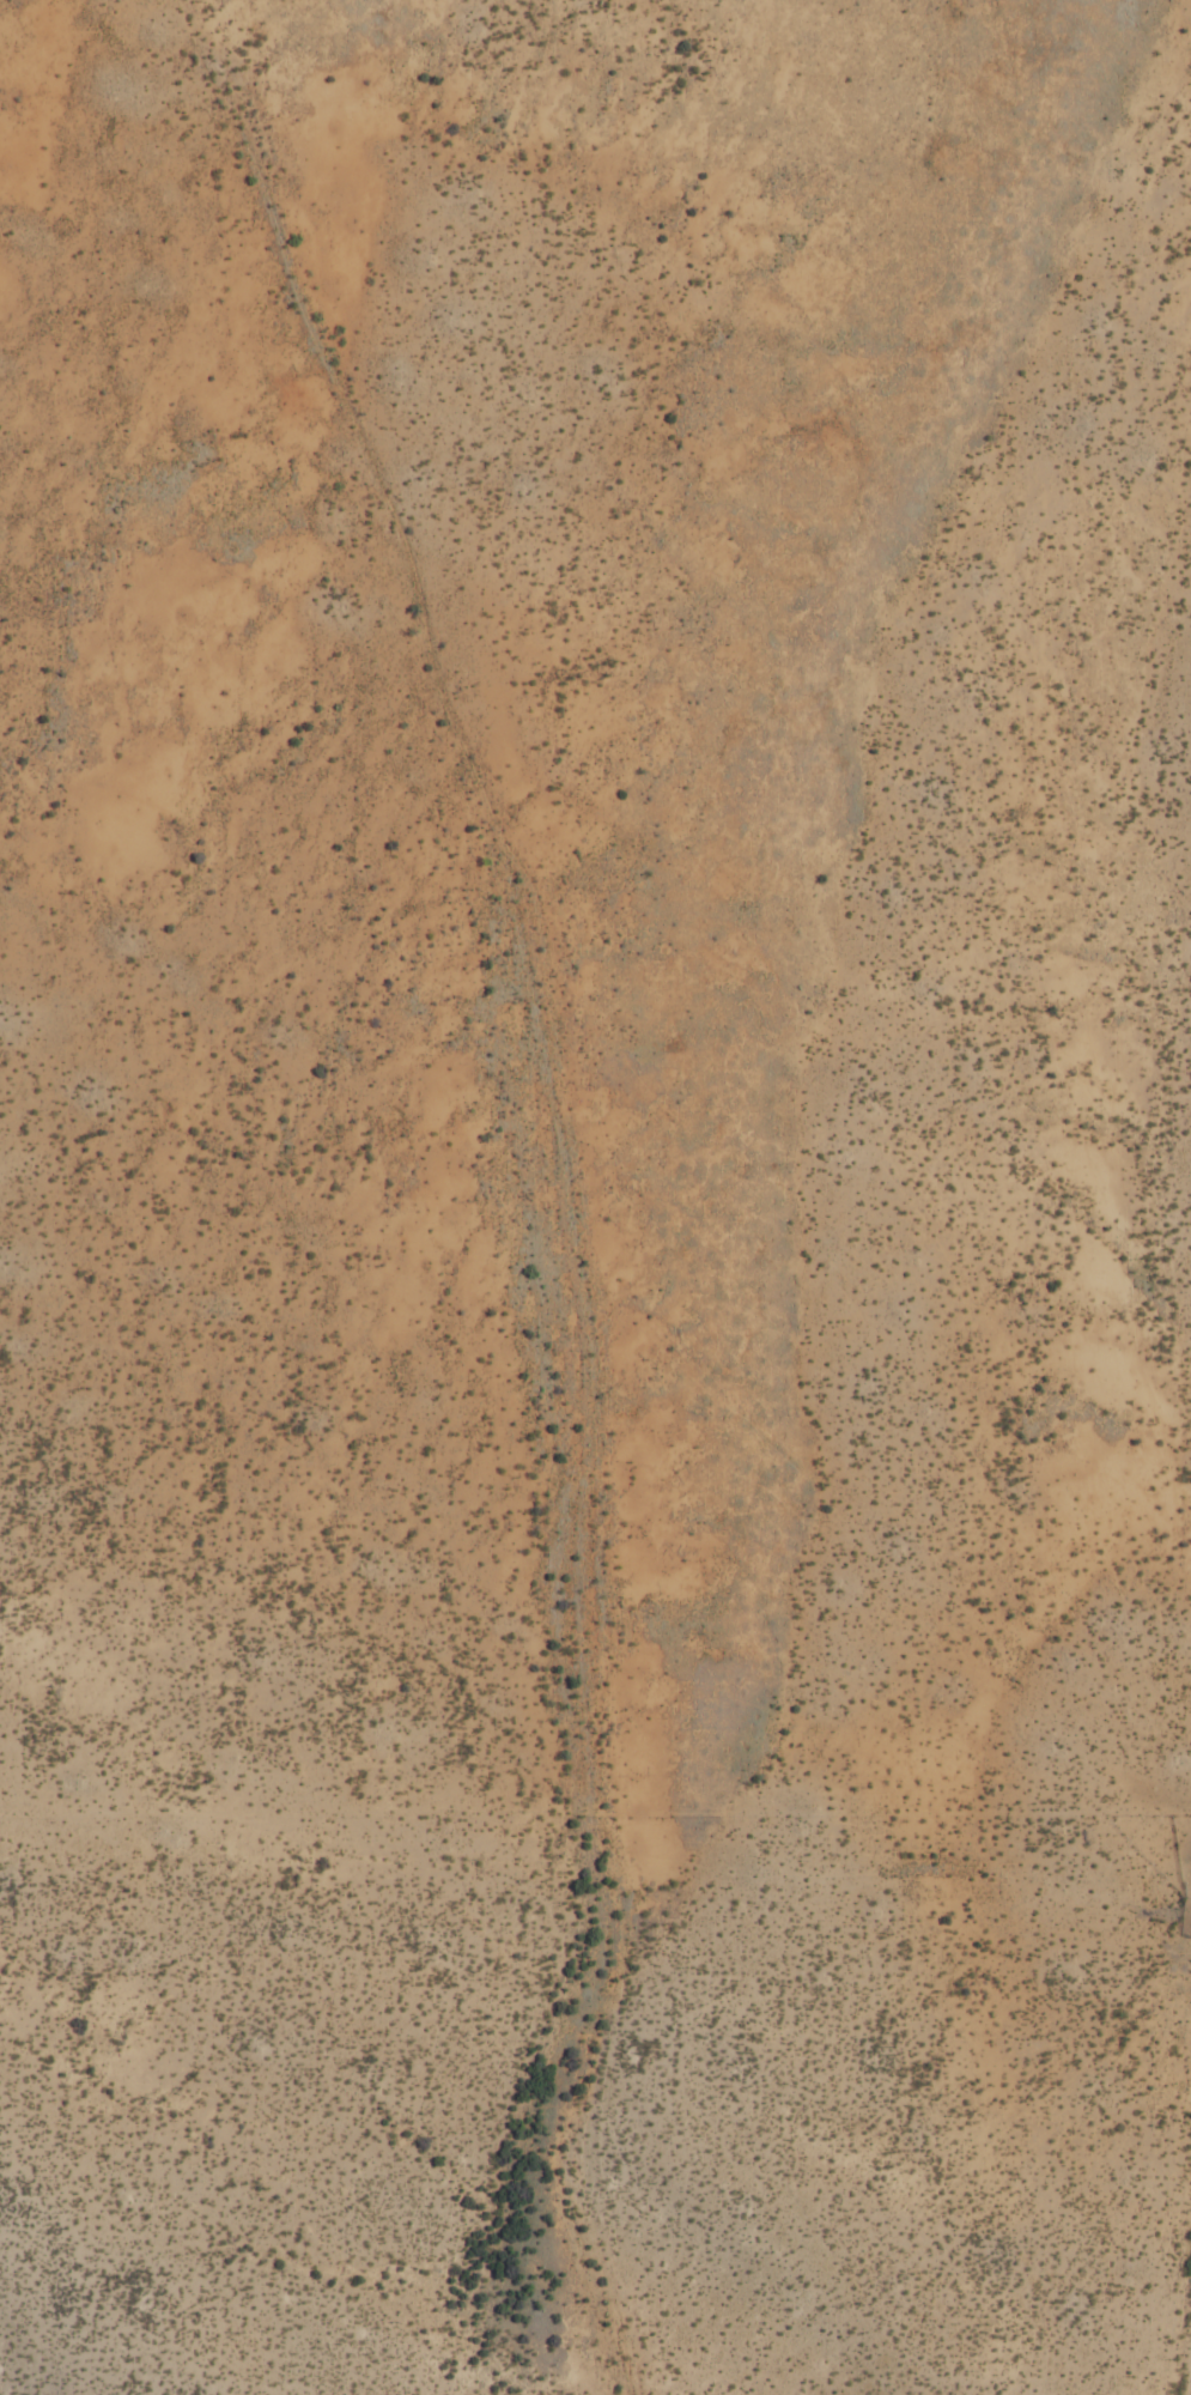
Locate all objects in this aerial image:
road: (571, 1162)
road: (905, 1884)
road: (1167, 2214)

